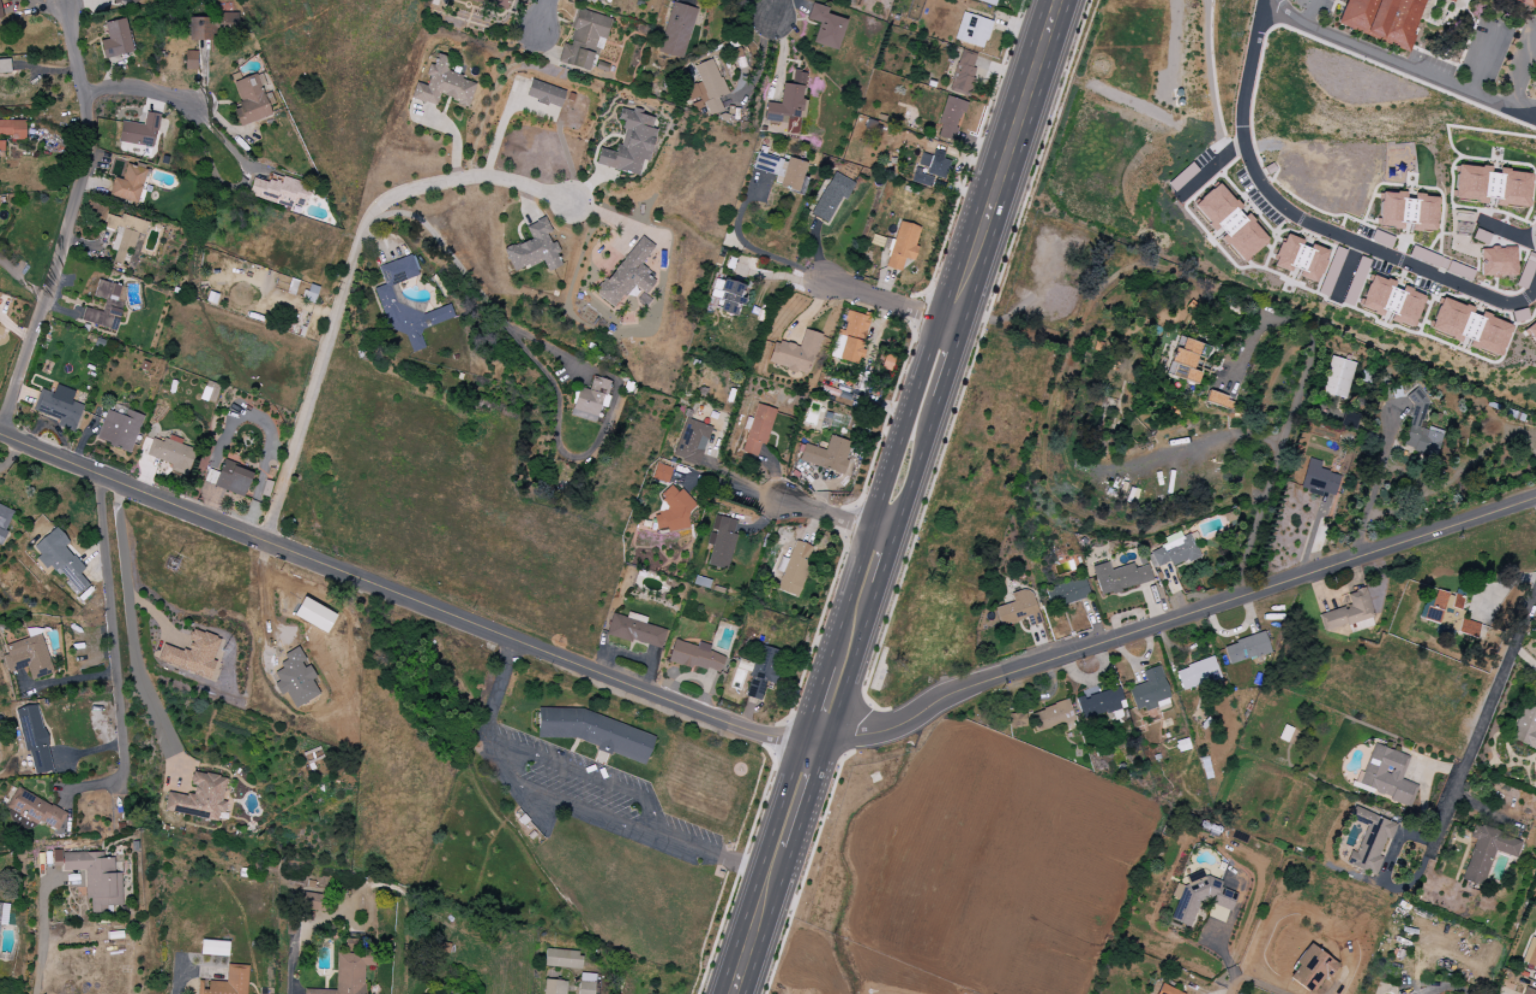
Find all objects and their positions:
building: (1450, 0)
road: (47, 1)
building: (115, 1)
building: (133, 1)
building: (598, 1)
building: (495, 2)
building: (987, 2)
building: (1525, 2)
road: (776, 9)
road: (1308, 12)
road: (542, 15)
building: (1, 18)
building: (1382, 20)
building: (214, 25)
building: (825, 27)
building: (972, 30)
building: (677, 31)
building: (116, 39)
building: (584, 40)
road: (1480, 59)
building: (5, 66)
road: (754, 67)
building: (963, 73)
road: (1421, 74)
building: (443, 85)
road: (140, 87)
building: (706, 87)
building: (545, 94)
building: (251, 100)
building: (788, 100)
road: (1524, 103)
building: (950, 118)
building: (13, 129)
building: (139, 131)
road: (223, 138)
building: (630, 143)
building: (1, 146)
building: (930, 168)
building: (791, 175)
road: (465, 178)
building: (128, 184)
building: (1491, 186)
building: (280, 192)
building: (831, 196)
building: (1406, 211)
road: (69, 219)
road: (1309, 219)
building: (1229, 223)
building: (124, 235)
road: (439, 239)
building: (902, 245)
road: (751, 248)
building: (534, 249)
building: (1336, 257)
building: (1299, 259)
building: (1497, 262)
building: (627, 274)
building: (1325, 284)
building: (387, 296)
building: (728, 296)
building: (1390, 301)
road: (887, 302)
building: (105, 306)
building: (1469, 327)
building: (1532, 331)
building: (849, 338)
road: (539, 343)
building: (795, 353)
building: (1182, 360)
building: (1337, 377)
road: (317, 387)
building: (590, 399)
building: (1218, 400)
building: (59, 406)
road: (1294, 411)
building: (119, 429)
building: (1420, 429)
building: (691, 442)
road: (1194, 445)
building: (171, 454)
building: (827, 455)
building: (661, 473)
building: (233, 479)
building: (1318, 480)
road: (734, 490)
road: (893, 496)
road: (833, 513)
building: (5, 519)
building: (721, 542)
building: (1174, 551)
building: (60, 560)
building: (793, 569)
building: (1119, 577)
road: (270, 590)
building: (1067, 593)
building: (1018, 609)
building: (1441, 609)
building: (1349, 613)
building: (314, 615)
road: (113, 618)
building: (1468, 628)
building: (635, 630)
road: (135, 631)
building: (1246, 648)
building: (696, 656)
building: (28, 657)
building: (762, 672)
building: (1197, 674)
building: (295, 679)
road: (72, 681)
building: (1149, 690)
road: (500, 691)
building: (1100, 703)
building: (1050, 716)
building: (1015, 720)
building: (1526, 722)
road: (1481, 724)
building: (594, 732)
road: (760, 734)
building: (34, 738)
road: (587, 771)
building: (1386, 775)
building: (199, 798)
building: (33, 811)
road: (616, 823)
building: (1369, 841)
building: (1486, 852)
building: (94, 877)
building: (1198, 897)
building: (314, 902)
road: (1309, 906)
building: (3, 913)
road: (44, 934)
building: (441, 947)
building: (214, 948)
building: (1530, 954)
building: (562, 958)
building: (1310, 969)
building: (349, 970)
road: (185, 976)
road: (1234, 980)
building: (227, 982)
building: (586, 983)
road: (289, 985)
road: (1267, 986)
building: (554, 987)
road: (1414, 989)
building: (1166, 990)
building: (1528, 991)

